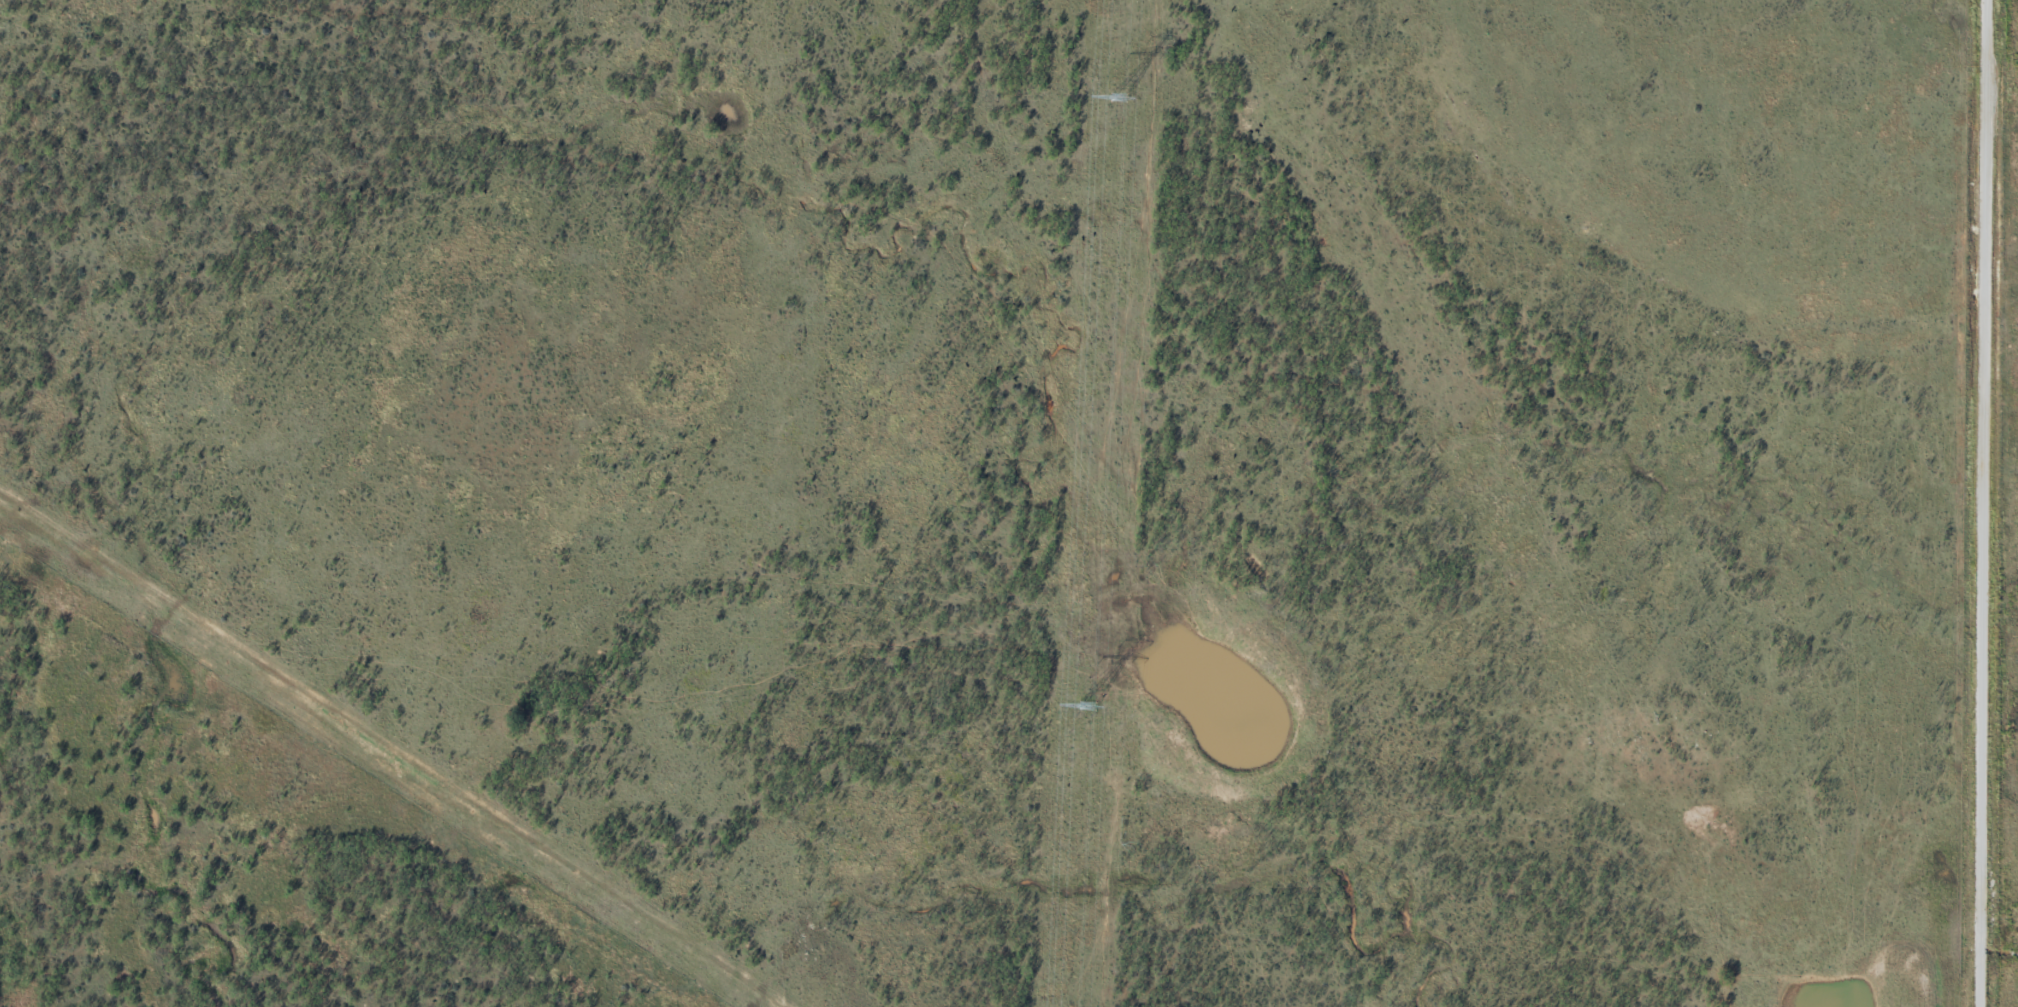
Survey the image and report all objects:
power tower: (1117, 96)
road: (1988, 503)
power tower: (1088, 703)

